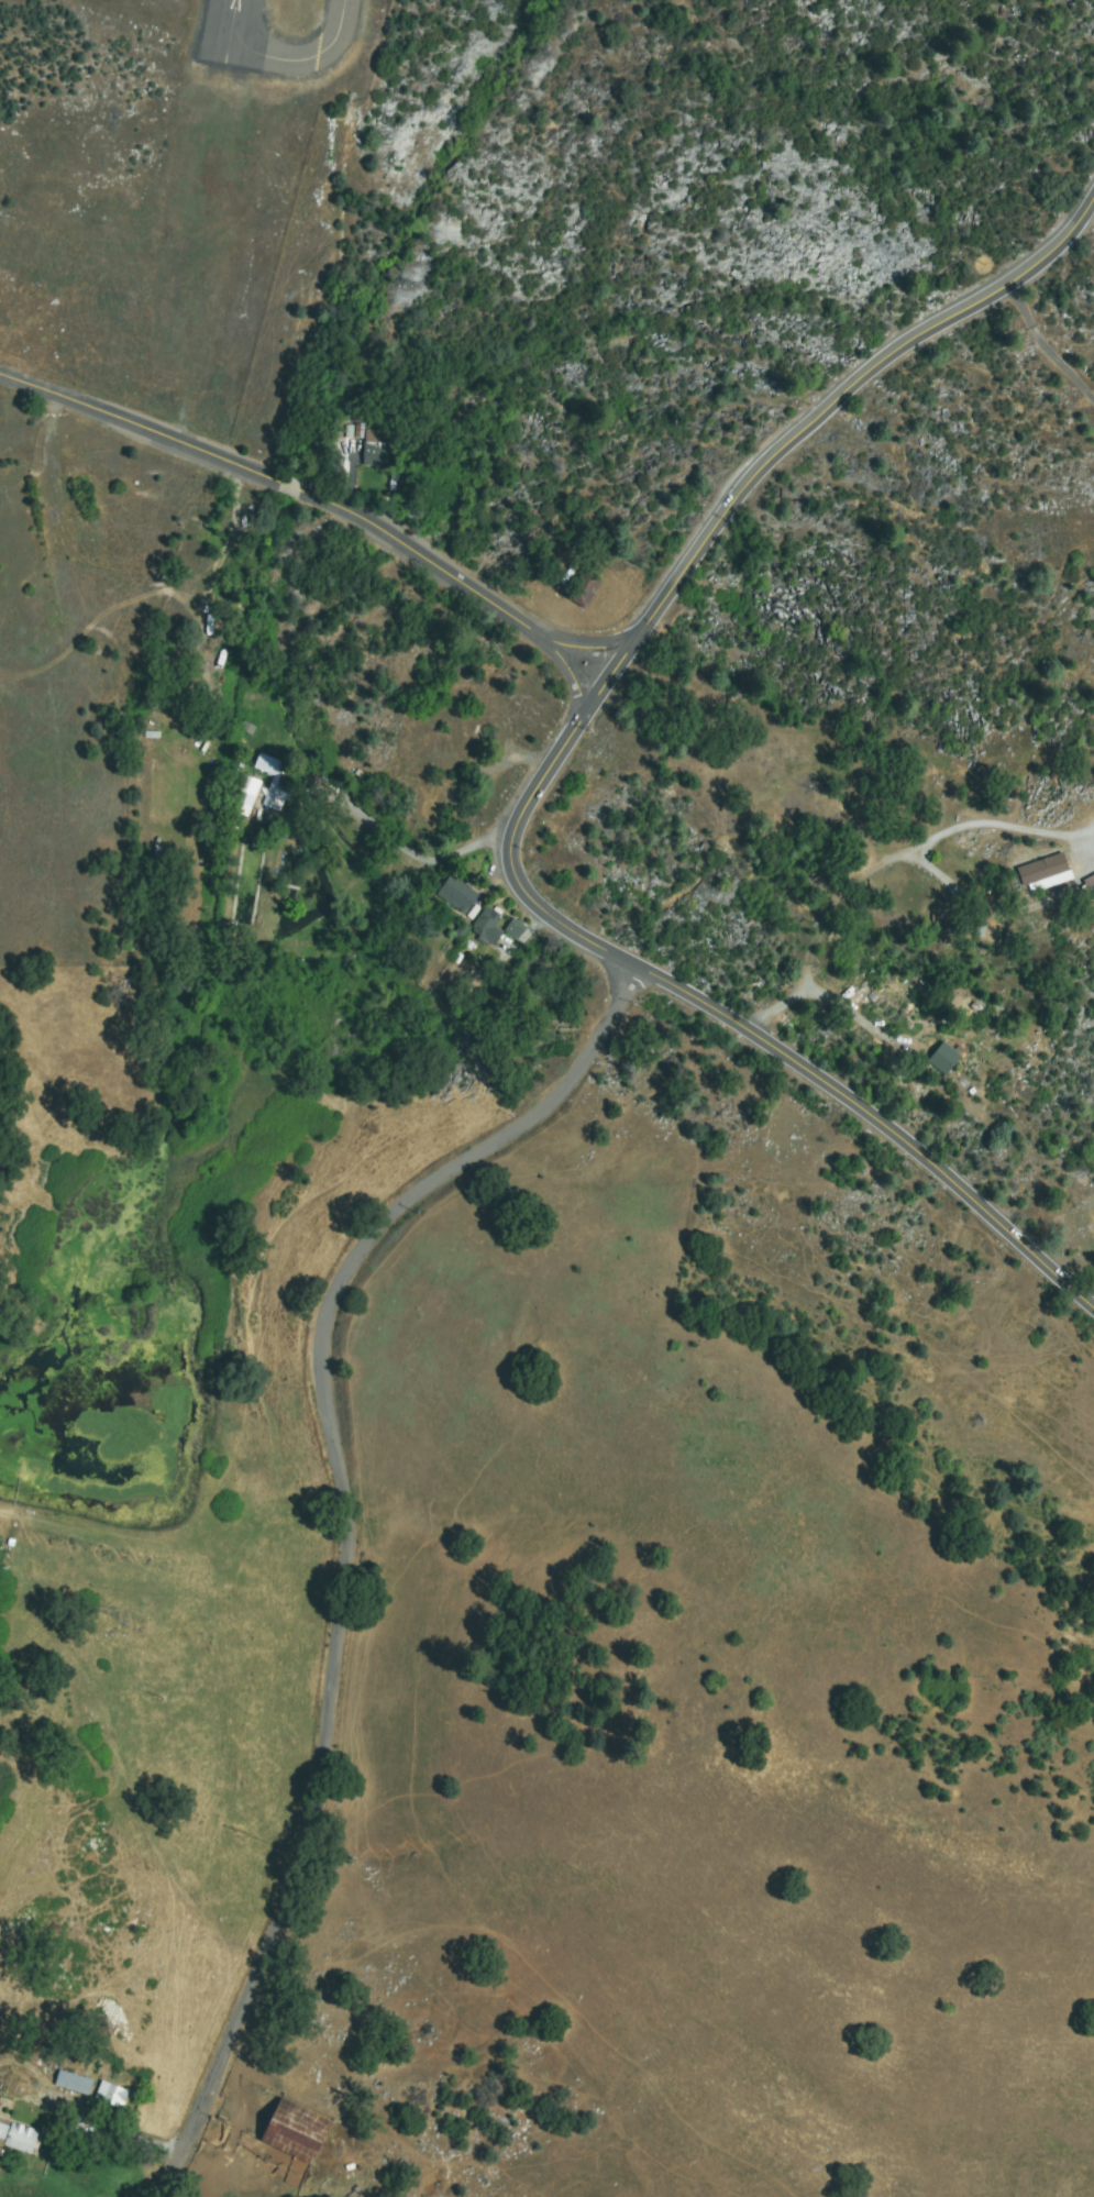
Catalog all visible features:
airport runway: (225, 30)
airport taxiway: (303, 59)
airport: (161, 184)
park: (1080, 251)
building: (374, 445)
road: (317, 506)
park: (12, 573)
building: (583, 590)
building: (277, 779)
building: (245, 796)
building: (431, 802)
road: (1063, 803)
building: (1042, 870)
road: (878, 872)
road: (1009, 886)
building: (1089, 886)
building: (456, 895)
building: (487, 925)
building: (954, 925)
building: (515, 929)
building: (461, 932)
building: (944, 1058)
road: (552, 1102)
road: (875, 1122)
building: (74, 2083)
building: (112, 2095)
building: (301, 2119)
building: (19, 2135)
building: (288, 2144)

